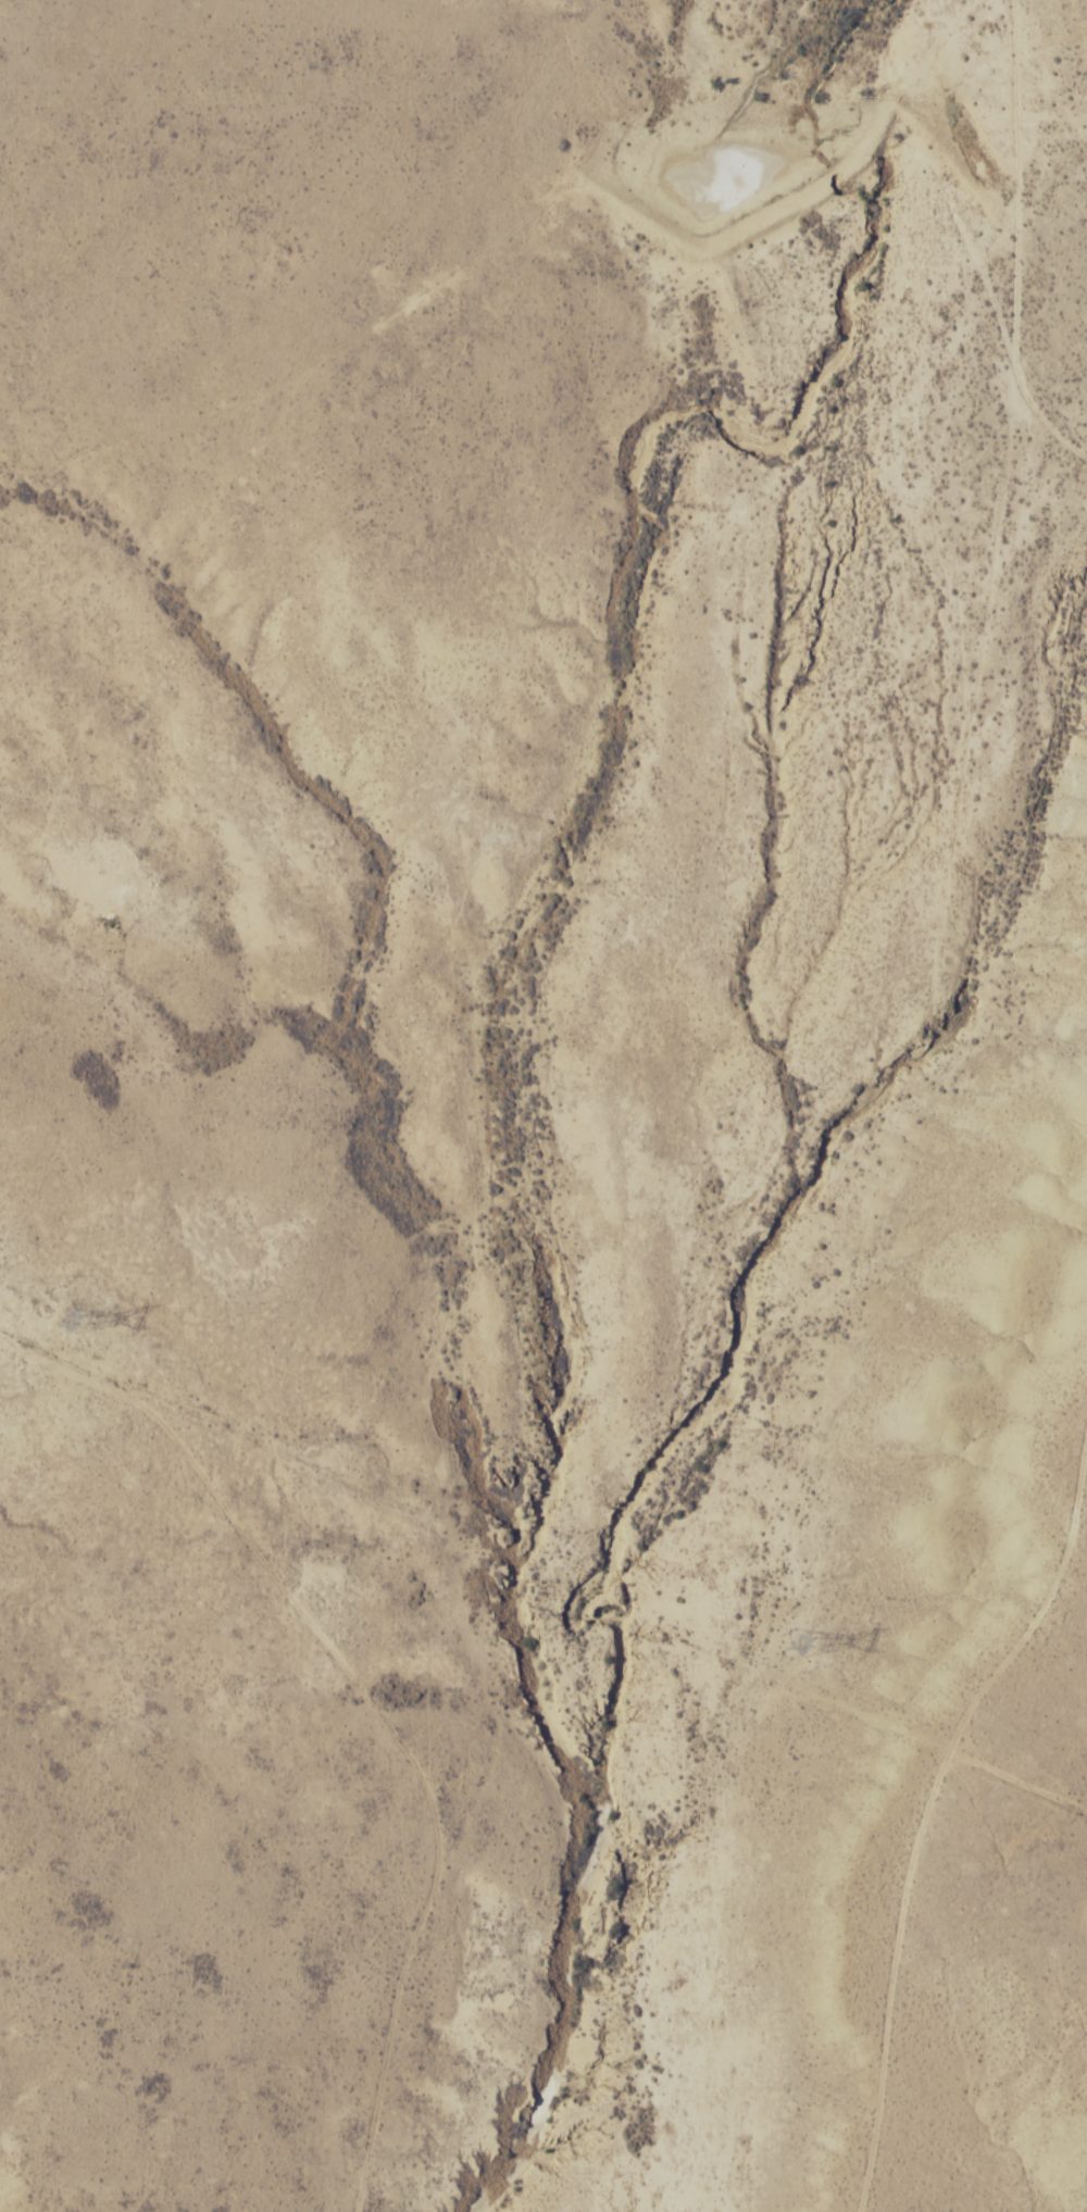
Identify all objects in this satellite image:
road: (869, 165)
road: (383, 316)
power tower: (74, 1326)
power tower: (811, 1646)
road: (936, 1786)

